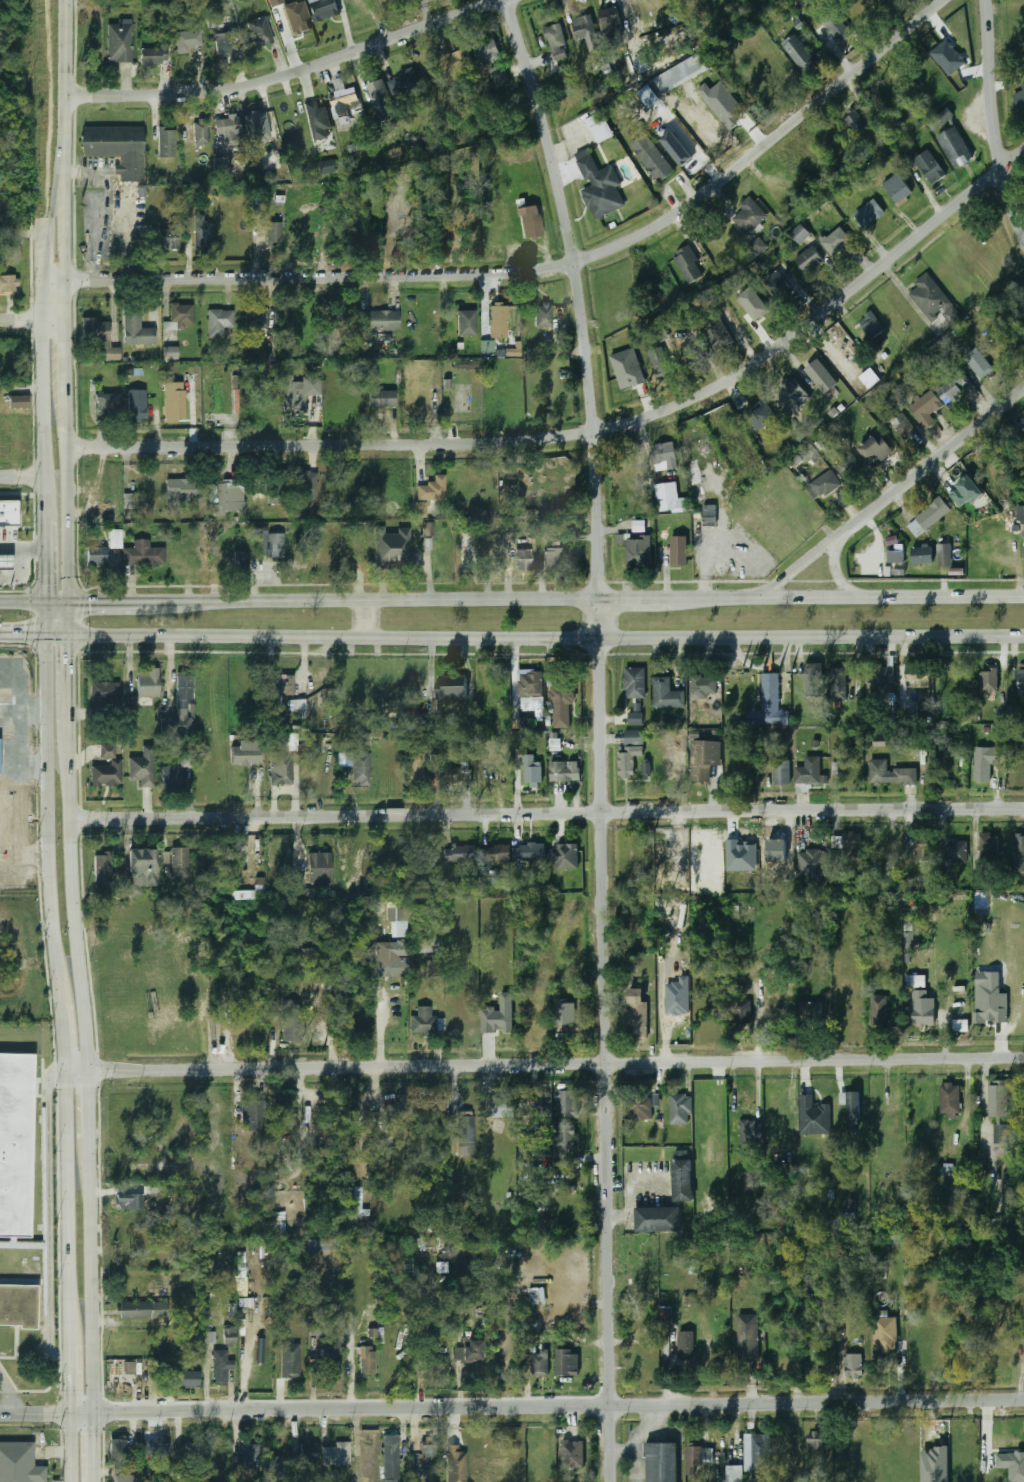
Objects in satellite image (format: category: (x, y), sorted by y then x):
building: (274, 2)
building: (322, 9)
building: (213, 17)
building: (296, 18)
building: (610, 22)
building: (583, 28)
building: (836, 28)
building: (258, 32)
building: (187, 41)
building: (556, 41)
building: (118, 43)
building: (222, 43)
building: (486, 49)
building: (797, 52)
building: (152, 56)
building: (948, 57)
building: (459, 60)
building: (605, 64)
building: (681, 73)
road: (66, 75)
building: (498, 76)
road: (289, 77)
building: (405, 83)
building: (1023, 84)
building: (375, 96)
building: (1019, 98)
building: (342, 102)
building: (942, 116)
road: (996, 119)
building: (316, 120)
building: (854, 121)
building: (257, 122)
building: (600, 127)
building: (227, 130)
building: (200, 132)
building: (165, 142)
building: (954, 147)
building: (115, 148)
building: (423, 149)
building: (651, 158)
building: (220, 166)
building: (928, 166)
building: (327, 167)
building: (778, 183)
road: (59, 184)
road: (65, 184)
building: (594, 184)
building: (897, 188)
building: (868, 213)
building: (748, 216)
building: (530, 222)
building: (200, 231)
building: (273, 232)
building: (799, 234)
building: (162, 239)
building: (835, 241)
building: (757, 244)
building: (14, 252)
building: (809, 259)
building: (1, 262)
building: (688, 265)
road: (547, 266)
road: (64, 269)
building: (774, 281)
building: (8, 284)
building: (929, 296)
building: (752, 312)
building: (542, 315)
building: (179, 316)
building: (255, 319)
building: (379, 320)
road: (32, 321)
building: (498, 321)
building: (218, 322)
building: (465, 322)
building: (869, 324)
building: (1020, 330)
building: (135, 331)
building: (718, 335)
building: (98, 337)
road: (43, 346)
building: (486, 346)
building: (170, 353)
building: (659, 360)
building: (978, 363)
building: (464, 364)
building: (628, 368)
building: (821, 376)
road: (66, 384)
building: (951, 388)
building: (792, 393)
building: (304, 394)
building: (380, 398)
building: (17, 402)
building: (174, 402)
building: (135, 404)
building: (106, 405)
building: (256, 406)
building: (924, 409)
building: (759, 414)
building: (899, 423)
road: (589, 429)
building: (906, 430)
building: (804, 431)
building: (875, 451)
building: (666, 454)
road: (931, 462)
building: (848, 466)
road: (21, 475)
building: (824, 484)
building: (303, 486)
building: (275, 487)
building: (431, 489)
building: (185, 492)
building: (966, 492)
building: (670, 498)
building: (224, 500)
building: (128, 501)
building: (422, 509)
building: (9, 513)
building: (710, 514)
building: (1020, 514)
building: (927, 517)
road: (69, 525)
building: (639, 526)
building: (428, 528)
parking lot: (9, 536)
building: (114, 539)
building: (892, 540)
building: (273, 545)
building: (391, 547)
road: (22, 548)
building: (636, 551)
building: (678, 551)
building: (944, 551)
building: (897, 554)
building: (922, 554)
road: (44, 555)
building: (142, 555)
building: (95, 557)
building: (239, 560)
building: (523, 560)
building: (552, 560)
building: (6, 562)
gas station: (6, 562)
road: (799, 566)
building: (721, 568)
road: (836, 570)
road: (23, 574)
traffic signals: (45, 585)
road: (603, 598)
road: (114, 601)
road: (22, 602)
traffic signals: (91, 602)
road: (366, 619)
traffic signals: (25, 636)
road: (35, 636)
road: (546, 638)
traffic signals: (70, 658)
road: (69, 670)
building: (878, 677)
building: (914, 677)
building: (812, 680)
building: (1020, 681)
building: (837, 682)
building: (988, 682)
building: (147, 683)
building: (634, 683)
building: (281, 685)
building: (530, 685)
building: (703, 687)
building: (451, 688)
building: (183, 692)
building: (103, 693)
building: (664, 693)
building: (560, 701)
building: (131, 703)
building: (768, 705)
building: (295, 709)
building: (635, 718)
road: (595, 736)
building: (633, 738)
building: (882, 741)
building: (245, 756)
building: (627, 759)
building: (703, 759)
building: (674, 760)
building: (984, 763)
building: (646, 766)
building: (141, 767)
building: (355, 767)
building: (415, 767)
building: (105, 768)
building: (742, 770)
building: (281, 772)
building: (564, 772)
building: (781, 772)
building: (807, 772)
building: (532, 773)
building: (889, 774)
building: (171, 775)
building: (453, 775)
building: (172, 787)
road: (546, 813)
building: (847, 845)
building: (876, 846)
building: (988, 847)
building: (771, 848)
building: (923, 848)
building: (527, 850)
building: (957, 852)
building: (458, 853)
building: (497, 853)
building: (1019, 853)
building: (564, 856)
building: (741, 856)
building: (427, 858)
building: (142, 862)
building: (178, 862)
building: (812, 867)
building: (319, 868)
building: (101, 869)
building: (133, 889)
building: (251, 891)
building: (730, 917)
building: (398, 928)
building: (908, 941)
building: (421, 943)
building: (307, 953)
building: (735, 958)
building: (391, 959)
building: (918, 981)
building: (991, 1004)
building: (804, 1010)
building: (877, 1010)
building: (741, 1011)
building: (562, 1013)
building: (923, 1013)
building: (636, 1014)
building: (499, 1016)
building: (421, 1020)
building: (290, 1024)
building: (961, 1025)
road: (71, 1058)
road: (548, 1065)
building: (950, 1100)
building: (996, 1101)
building: (566, 1105)
building: (499, 1108)
building: (639, 1108)
road: (92, 1109)
building: (679, 1109)
building: (852, 1109)
building: (398, 1110)
building: (283, 1113)
building: (252, 1116)
building: (813, 1117)
building: (463, 1128)
building: (751, 1132)
building: (1000, 1134)
building: (15, 1144)
building: (563, 1146)
building: (681, 1180)
building: (357, 1197)
building: (129, 1201)
building: (849, 1209)
road: (48, 1215)
building: (657, 1220)
building: (278, 1223)
building: (644, 1274)
building: (139, 1283)
building: (189, 1294)
building: (536, 1296)
building: (18, 1305)
building: (142, 1310)
building: (666, 1313)
building: (886, 1334)
building: (229, 1335)
building: (208, 1337)
building: (747, 1338)
building: (685, 1344)
building: (467, 1351)
building: (364, 1360)
building: (330, 1362)
building: (539, 1362)
building: (566, 1363)
building: (640, 1364)
building: (220, 1367)
building: (852, 1367)
building: (129, 1368)
building: (782, 1368)
building: (293, 1371)
building: (184, 1380)
road: (5, 1397)
road: (189, 1402)
road: (511, 1407)
road: (103, 1413)
building: (428, 1446)
building: (116, 1448)
building: (989, 1449)
building: (307, 1451)
building: (158, 1452)
building: (184, 1452)
building: (389, 1452)
building: (334, 1454)
building: (572, 1454)
building: (250, 1455)
road: (104, 1456)
building: (750, 1457)
building: (693, 1461)
building: (661, 1462)
building: (19, 1463)
building: (272, 1464)
building: (455, 1464)
building: (1012, 1465)
building: (124, 1479)
building: (171, 1480)
building: (389, 1480)

